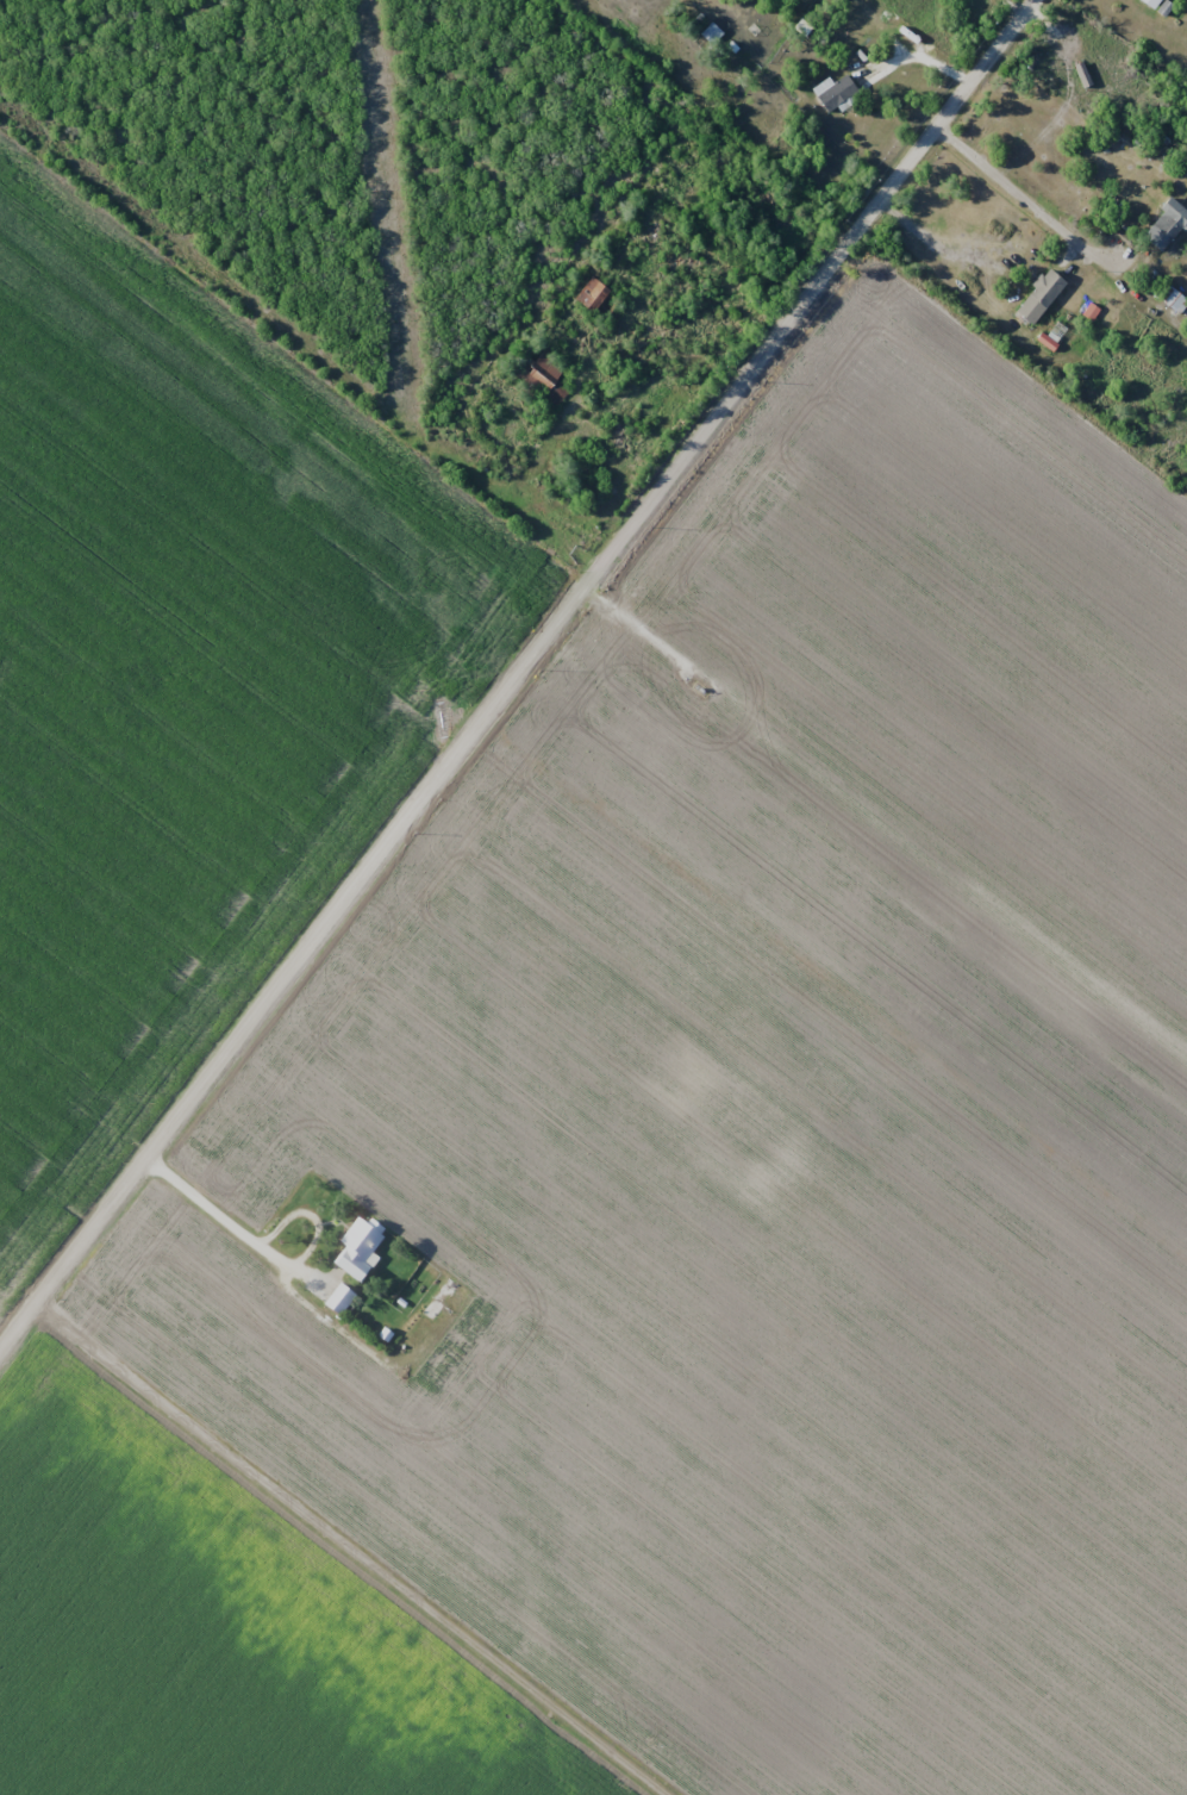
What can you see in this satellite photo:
building: (1154, 2)
building: (802, 26)
building: (713, 33)
building: (838, 92)
road: (1018, 194)
building: (1167, 231)
building: (1048, 287)
building: (1176, 301)
building: (554, 387)
road: (524, 686)
building: (360, 1248)
road: (273, 1259)
building: (342, 1298)
building: (444, 1299)
road: (351, 1556)

